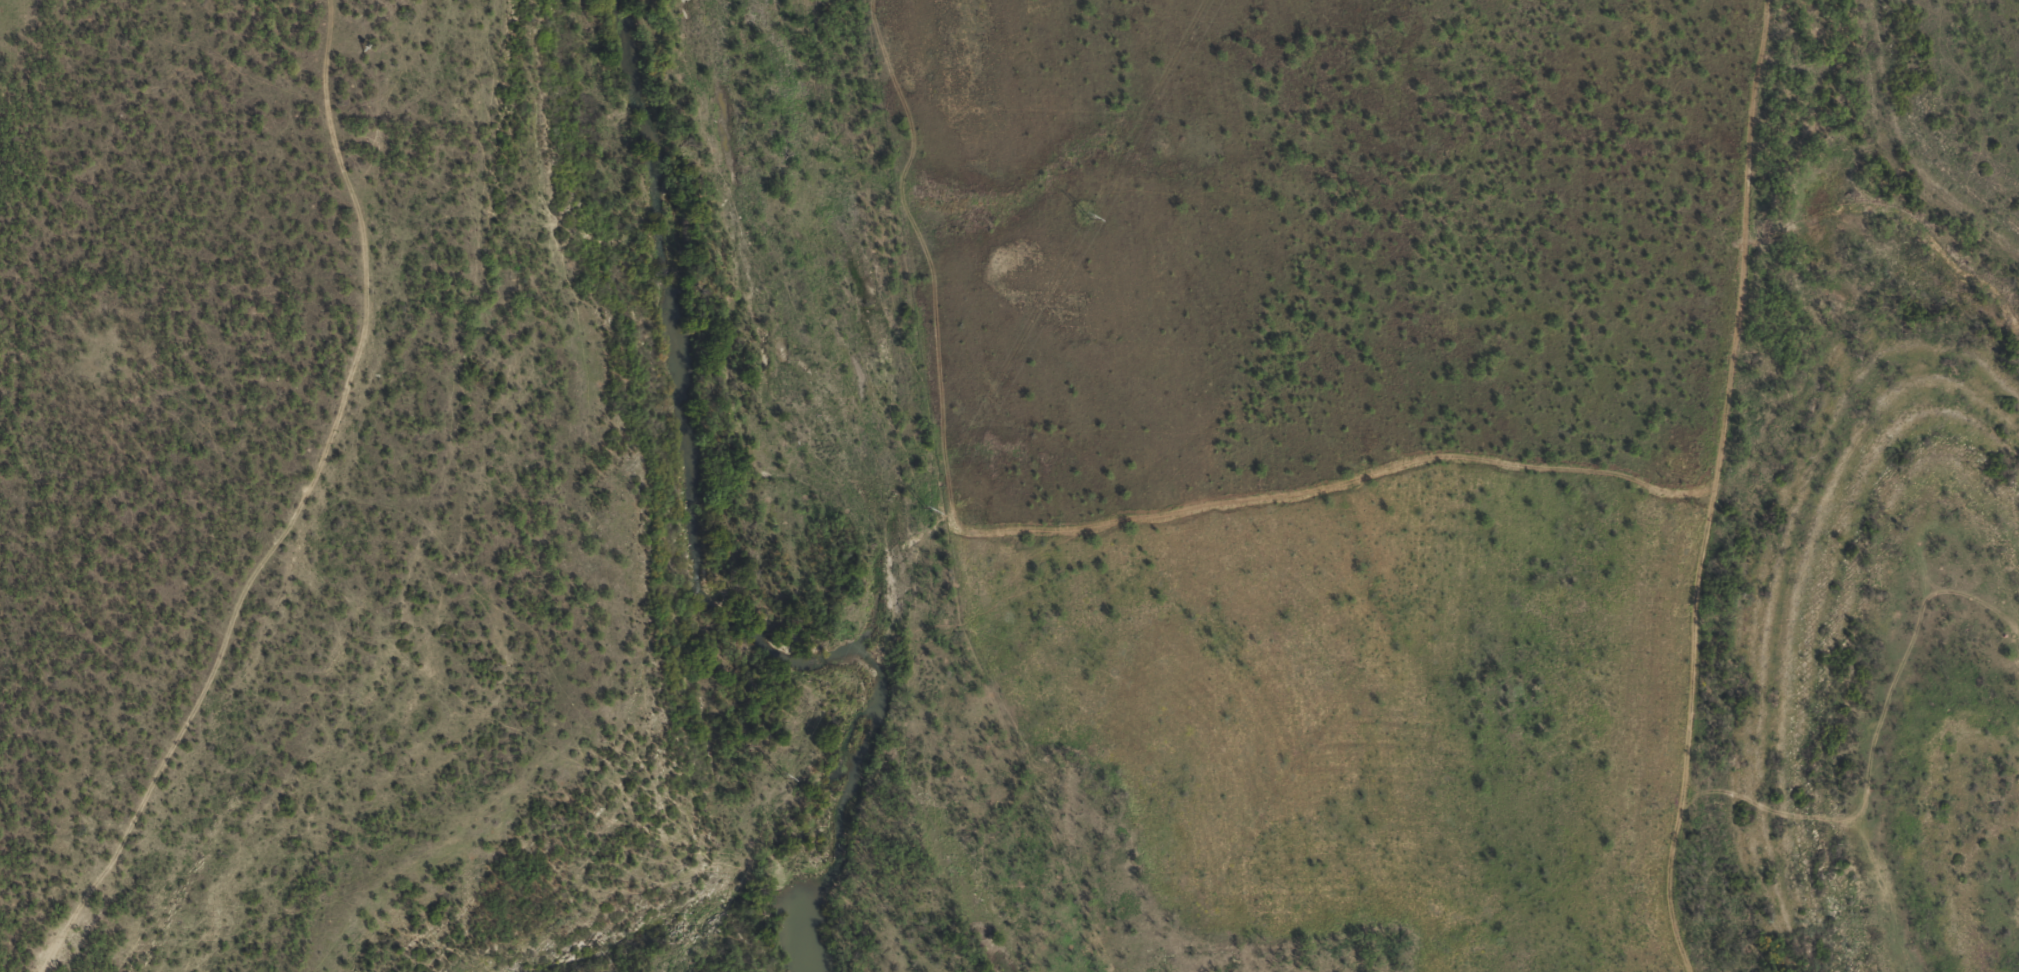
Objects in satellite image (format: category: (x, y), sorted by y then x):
power tower: (1086, 217)
power tower: (926, 510)
power tower: (779, 776)

